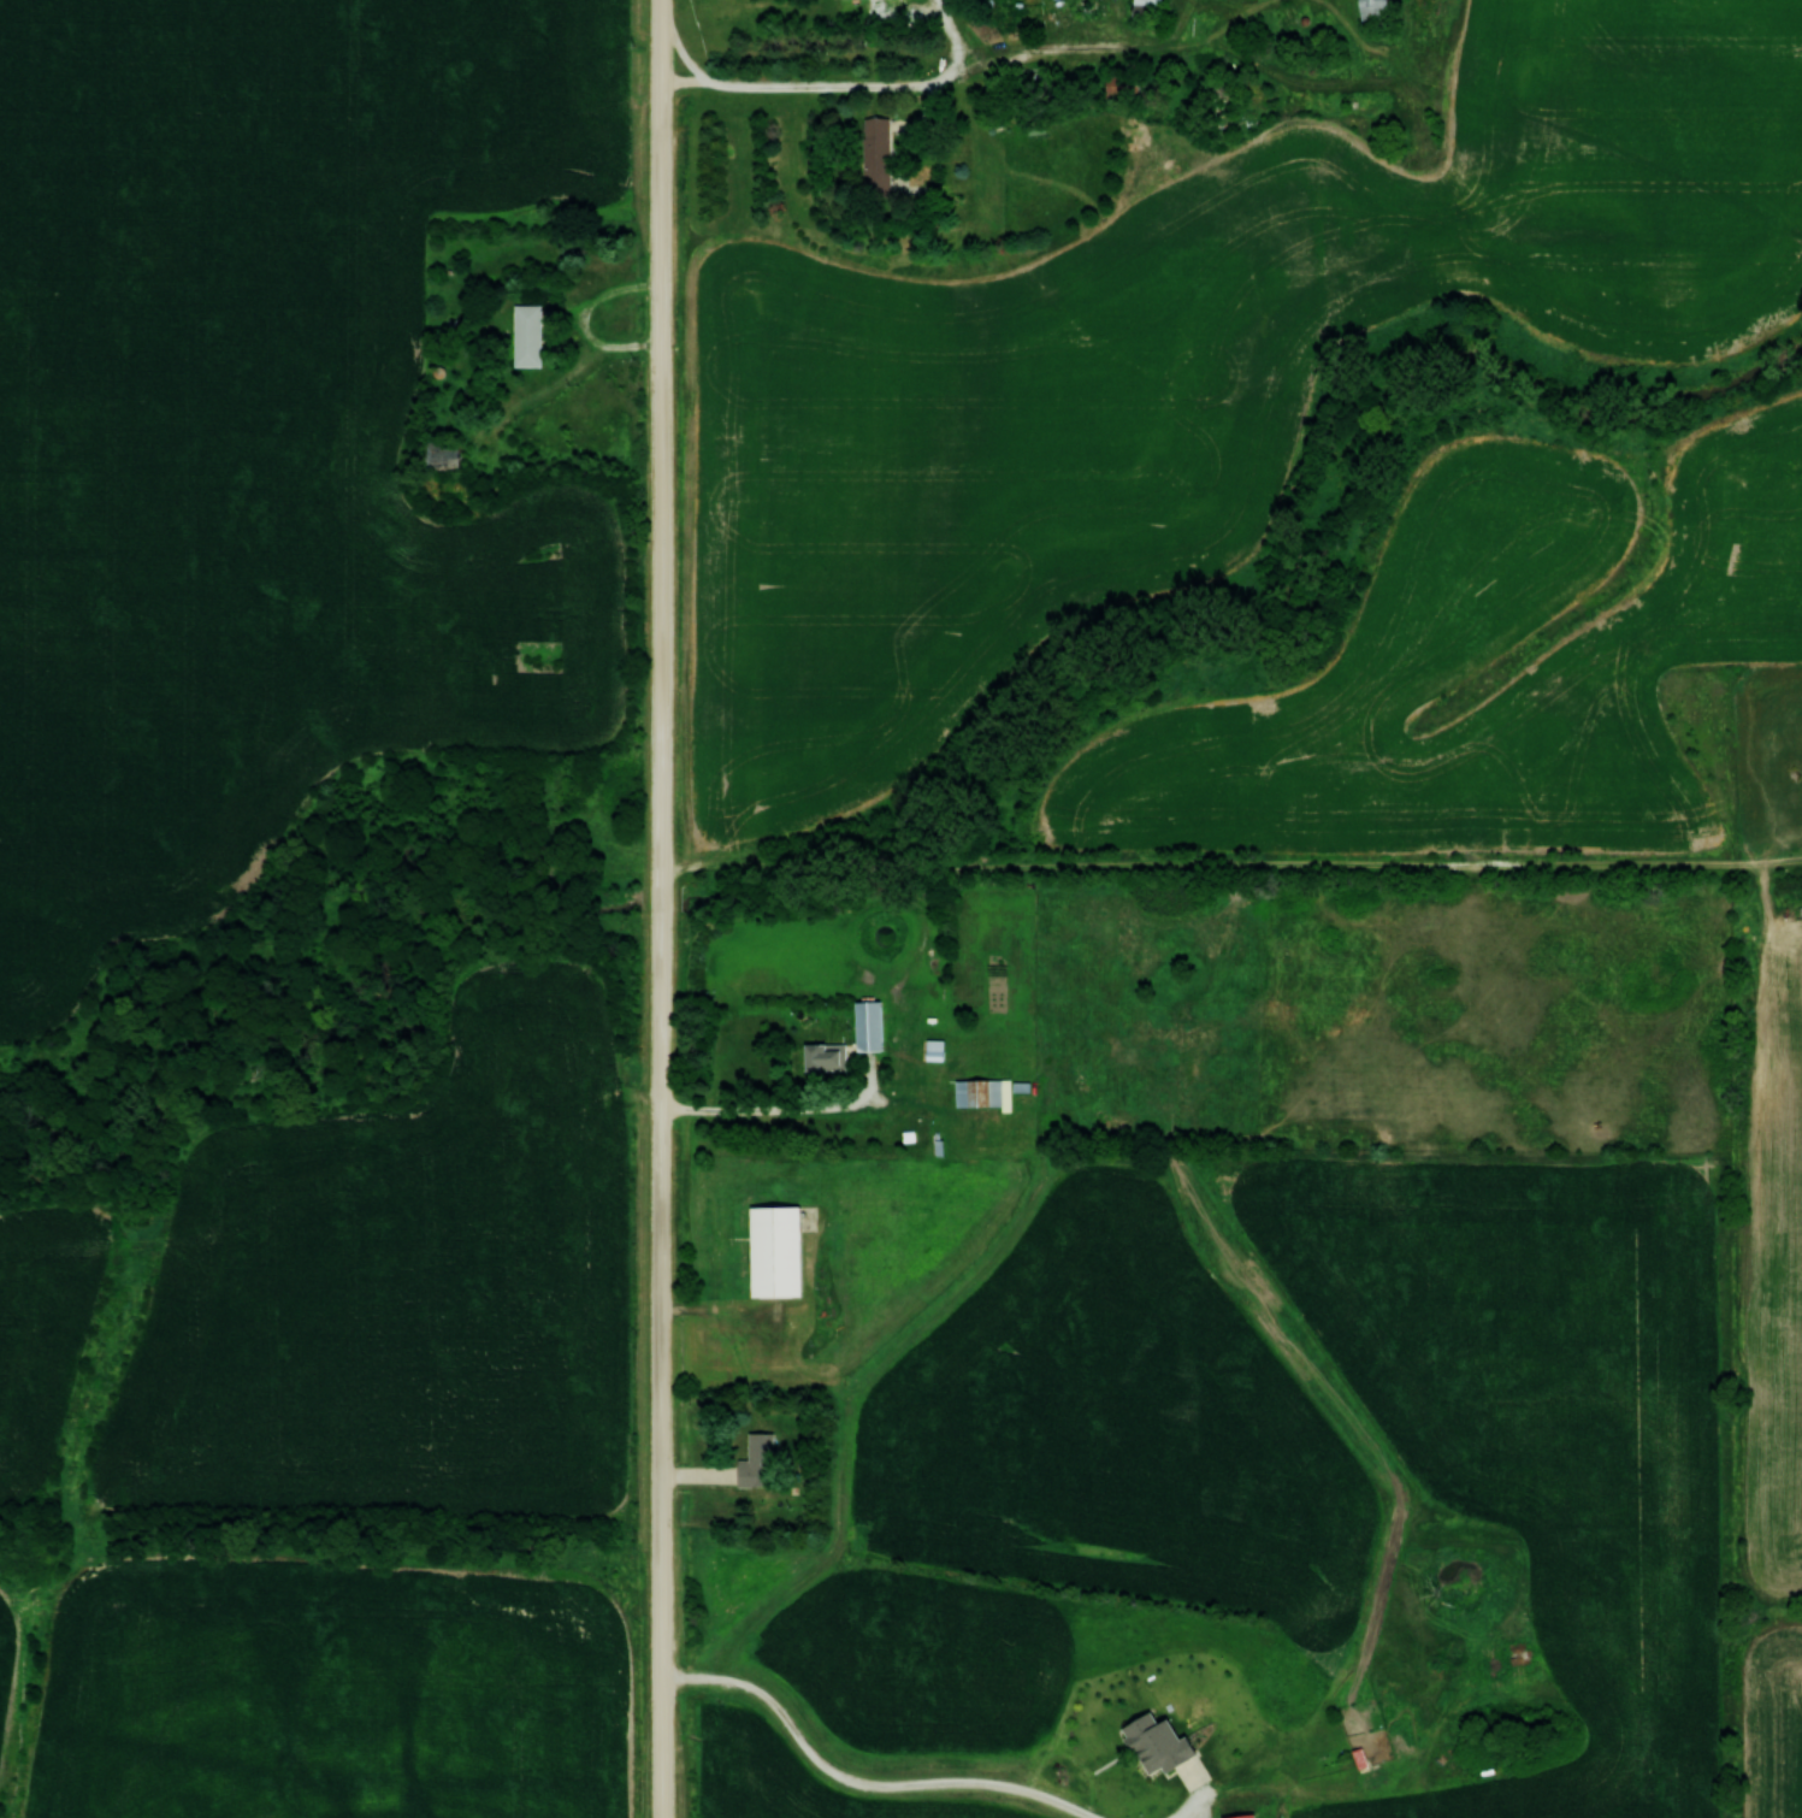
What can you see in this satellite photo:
building: (1147, 2)
building: (1378, 5)
road: (681, 53)
road: (841, 85)
building: (876, 153)
building: (526, 335)
road: (662, 908)
building: (868, 1025)
building: (825, 1056)
building: (982, 1092)
road: (773, 1110)
building: (775, 1251)
building: (756, 1460)
building: (1157, 1743)
road: (861, 1782)
road: (1200, 1799)
building: (1240, 1816)

